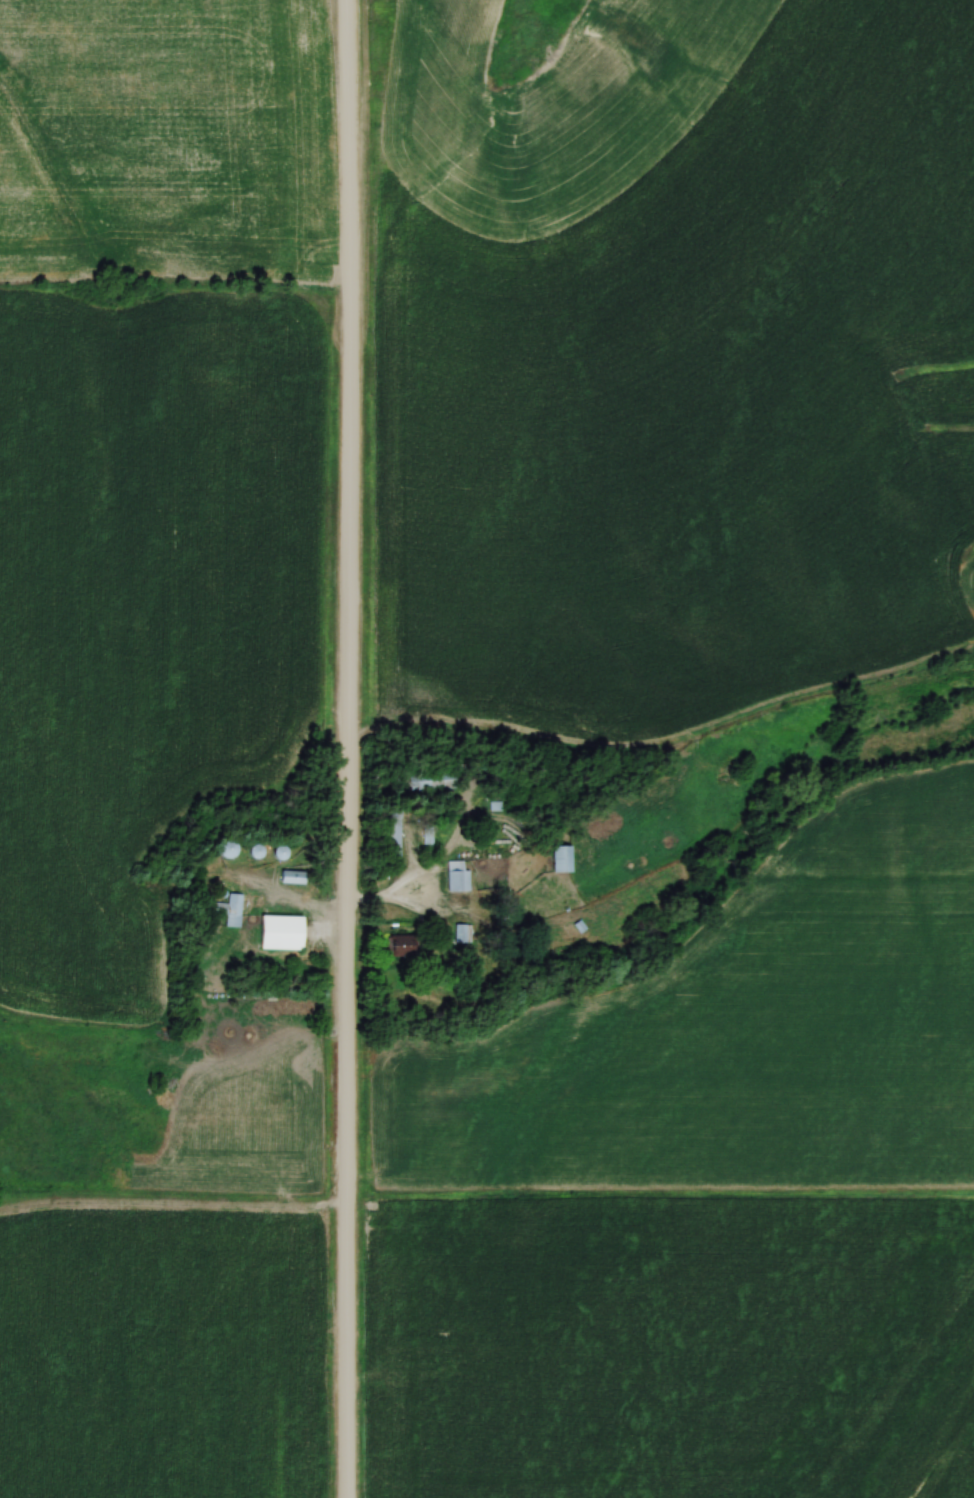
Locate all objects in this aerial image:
road: (348, 748)
building: (433, 778)
building: (391, 835)
building: (224, 848)
building: (252, 850)
building: (276, 851)
building: (558, 858)
building: (289, 876)
building: (454, 877)
building: (225, 909)
building: (277, 931)
building: (398, 944)

